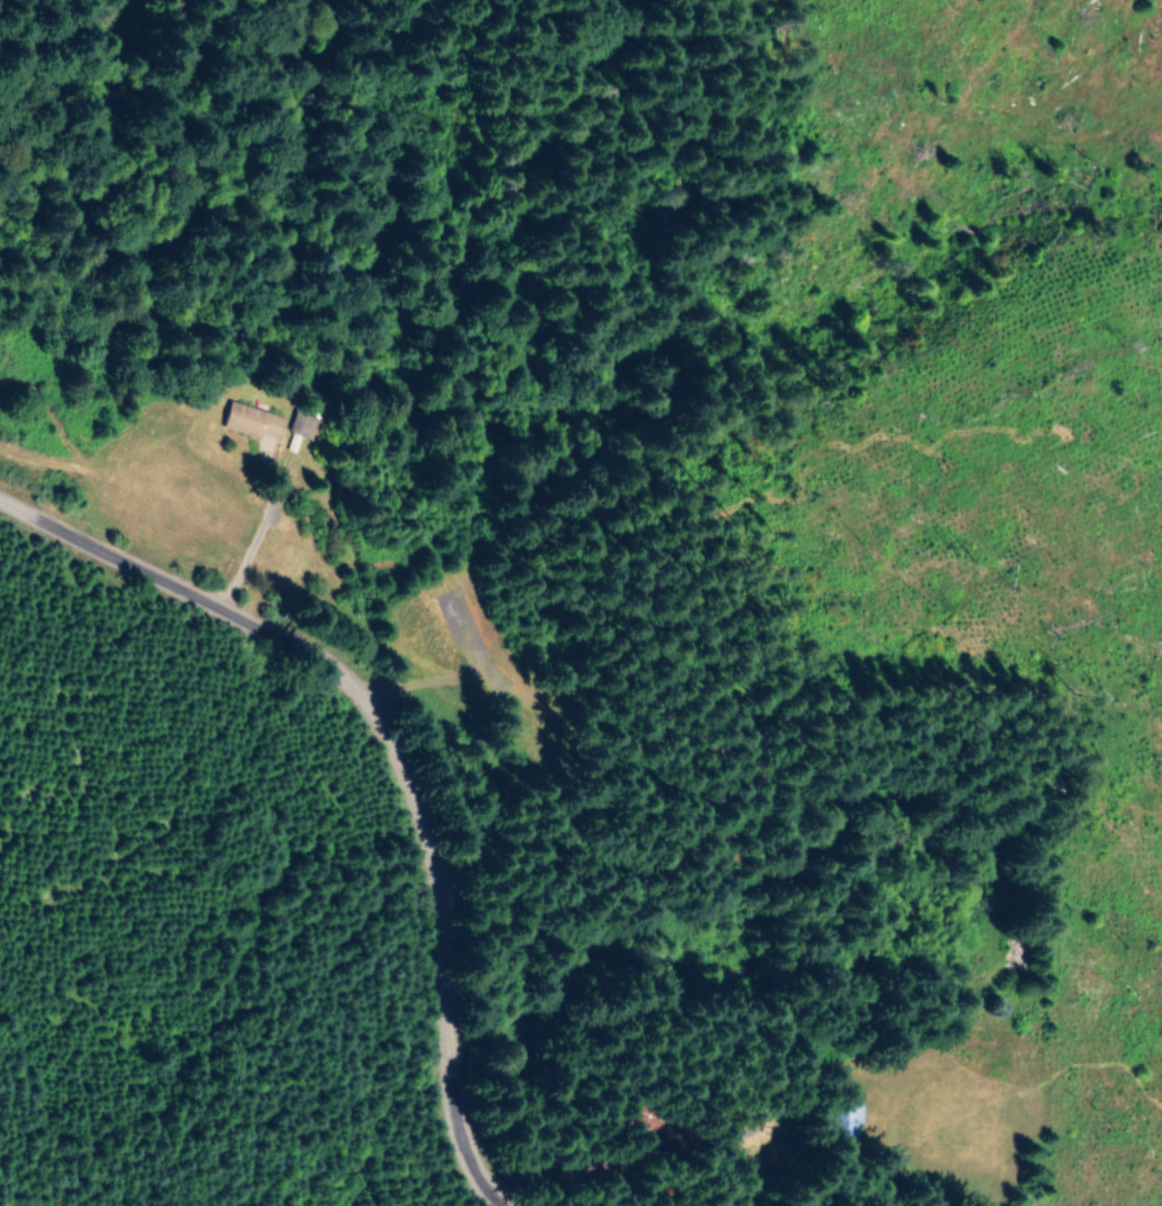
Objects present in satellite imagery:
road: (245, 549)
road: (386, 758)

